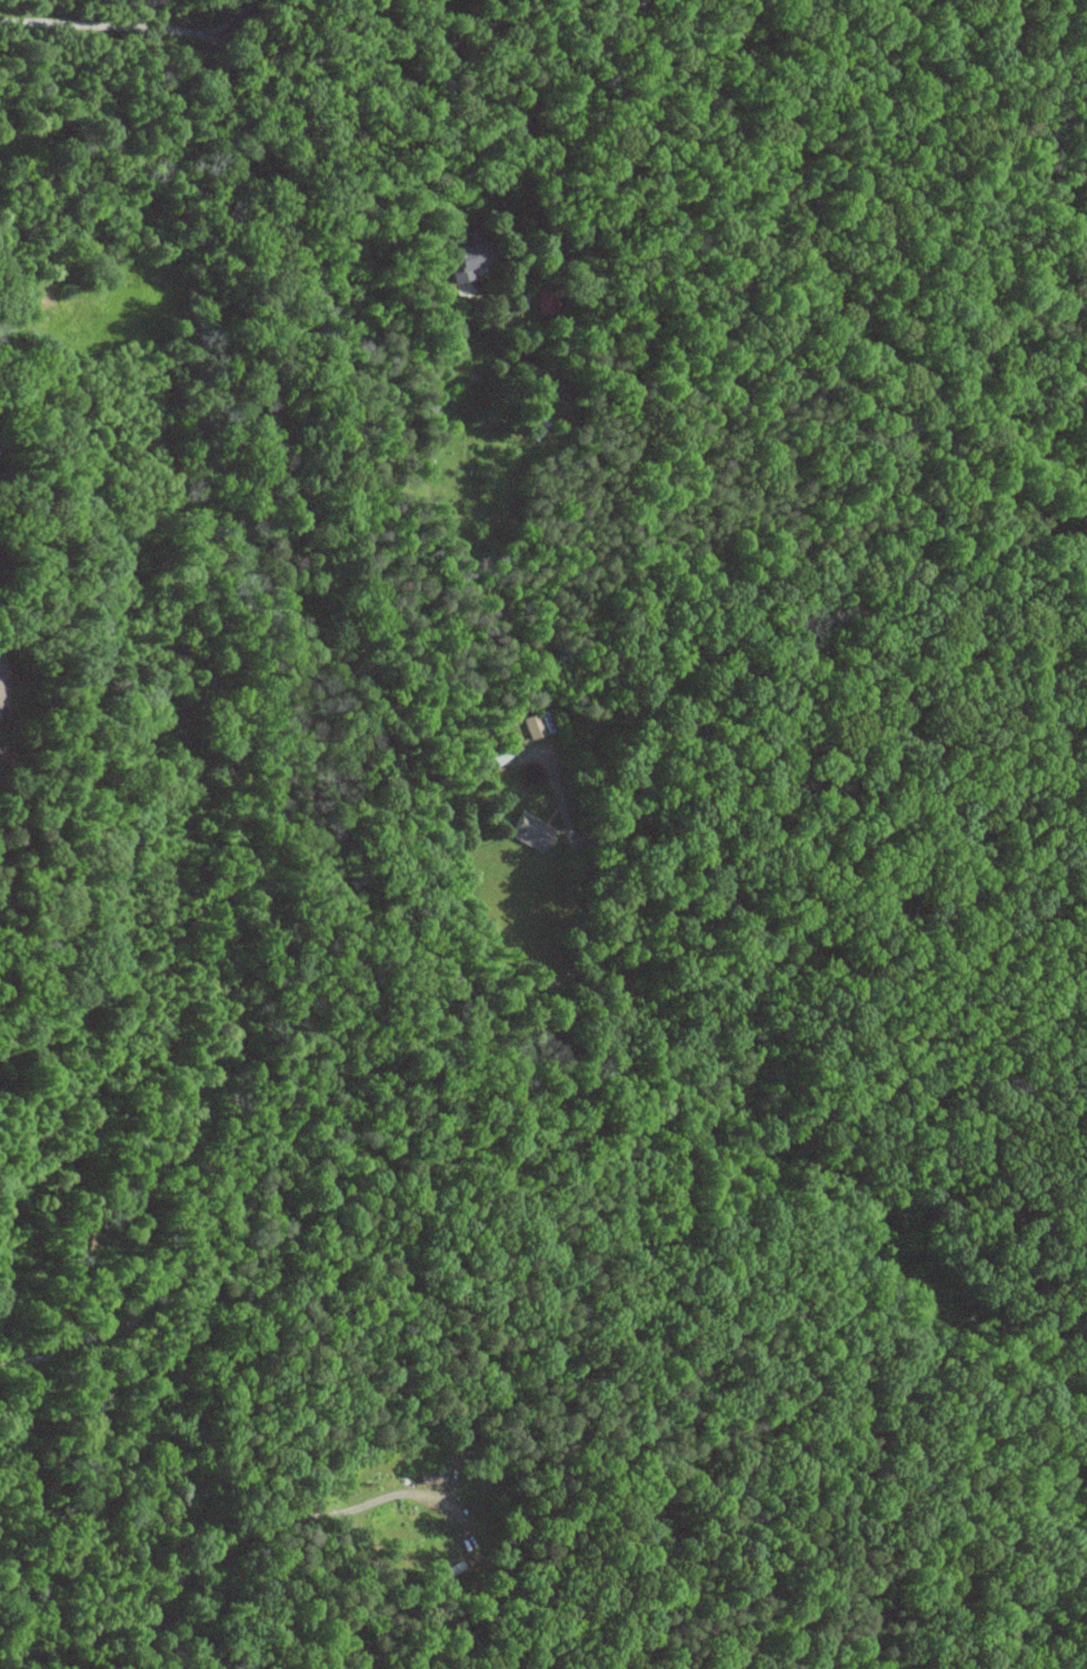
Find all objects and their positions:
road: (229, 23)
road: (98, 24)
road: (448, 90)
road: (1008, 119)
building: (463, 260)
building: (532, 724)
building: (501, 751)
building: (531, 830)
park: (739, 871)
road: (822, 921)
road: (931, 979)
road: (399, 1047)
road: (67, 1349)
road: (26, 1358)
road: (203, 1558)

